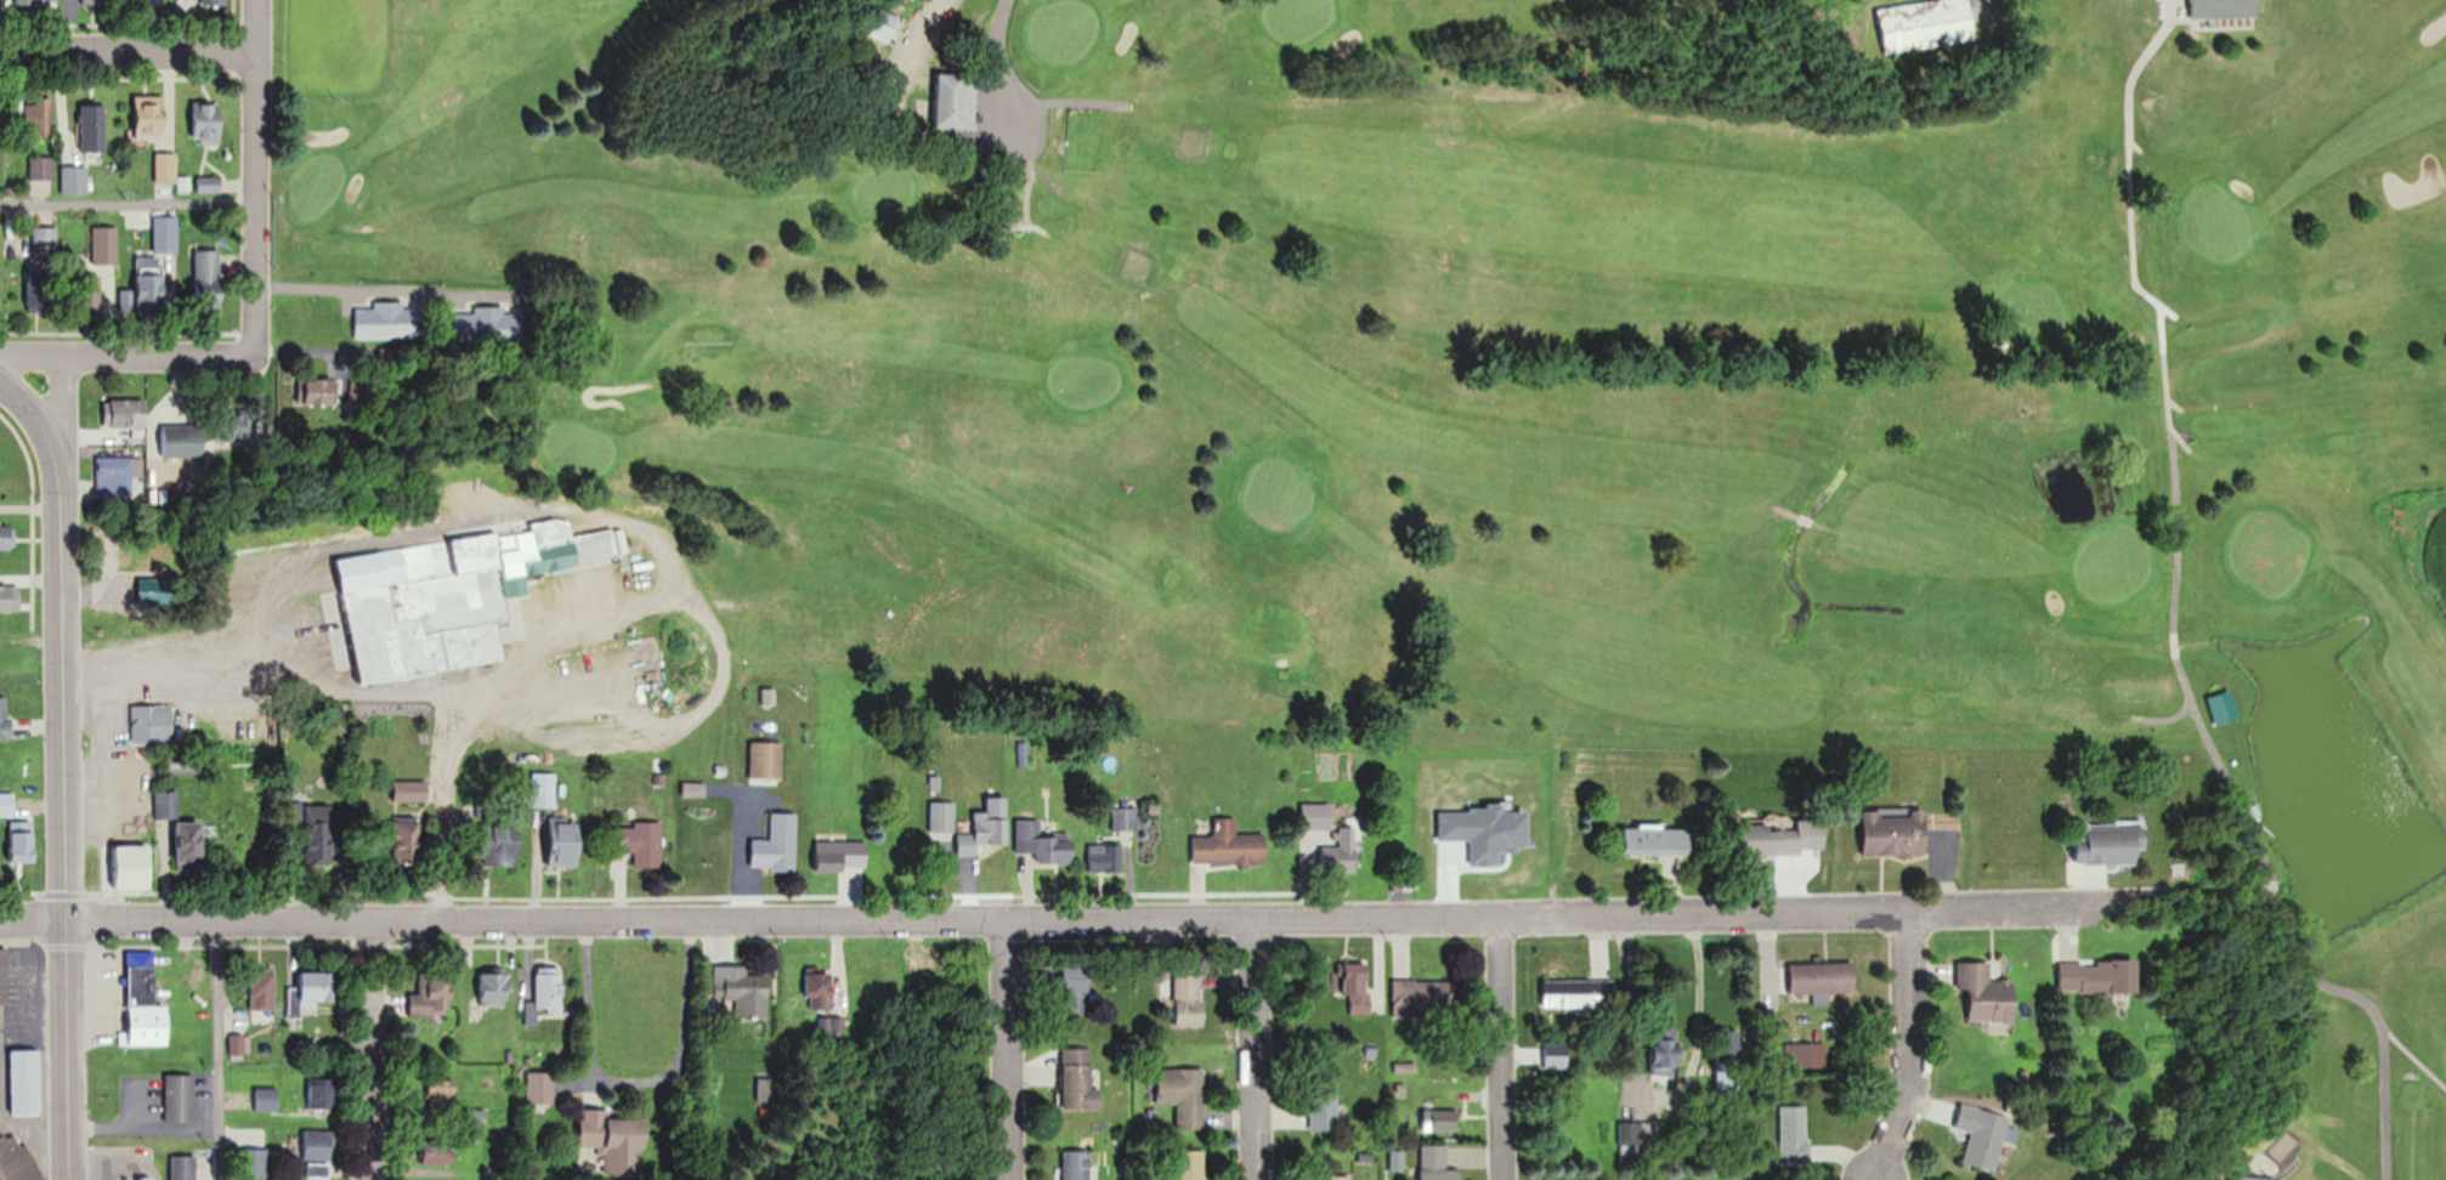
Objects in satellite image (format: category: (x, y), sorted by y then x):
building: (39, 1)
building: (214, 1)
building: (96, 2)
building: (151, 2)
building: (2224, 8)
building: (1925, 23)
building: (884, 25)
road: (126, 49)
road: (998, 72)
road: (1061, 100)
building: (956, 101)
building: (39, 117)
building: (149, 118)
building: (206, 121)
building: (92, 126)
road: (2130, 160)
building: (41, 166)
building: (165, 166)
building: (74, 178)
road: (254, 181)
building: (208, 185)
road: (128, 203)
building: (165, 233)
building: (45, 240)
building: (106, 244)
building: (208, 274)
building: (149, 280)
building: (41, 289)
building: (389, 322)
building: (489, 322)
road: (128, 364)
road: (593, 387)
building: (321, 391)
park: (1380, 395)
road: (64, 412)
building: (129, 413)
building: (182, 441)
building: (115, 476)
road: (598, 517)
road: (1806, 518)
building: (7, 537)
road: (2174, 557)
building: (153, 589)
building: (452, 595)
building: (10, 600)
building: (5, 717)
building: (152, 725)
building: (765, 761)
road: (66, 767)
building: (543, 789)
building: (409, 792)
building: (7, 805)
building: (1317, 817)
building: (942, 818)
building: (987, 827)
building: (1895, 832)
building: (317, 840)
building: (407, 840)
building: (1777, 840)
building: (1658, 841)
building: (22, 843)
building: (565, 843)
building: (1043, 843)
building: (189, 844)
building: (640, 844)
building: (498, 845)
building: (1229, 845)
building: (2108, 845)
building: (774, 852)
building: (1337, 853)
building: (842, 855)
building: (1106, 858)
building: (134, 867)
road: (1117, 915)
road: (33, 924)
building: (936, 975)
building: (1823, 977)
building: (2099, 977)
building: (1074, 986)
building: (265, 988)
building: (494, 988)
building: (1358, 989)
building: (740, 992)
building: (311, 993)
building: (1569, 994)
building: (1987, 994)
building: (432, 995)
building: (545, 995)
building: (1427, 997)
building: (1188, 998)
road: (1697, 1000)
building: (147, 1004)
building: (825, 1008)
building: (239, 1045)
road: (1907, 1045)
road: (1253, 1046)
road: (1501, 1046)
road: (998, 1048)
road: (361, 1050)
road: (223, 1051)
building: (1808, 1055)
road: (2416, 1055)
building: (1665, 1057)
building: (1077, 1080)
building: (26, 1083)
building: (542, 1091)
building: (319, 1094)
building: (442, 1094)
building: (1182, 1095)
building: (180, 1100)
building: (267, 1100)
building: (1324, 1111)
building: (1440, 1121)
building: (1794, 1134)
building: (1632, 1135)
building: (1984, 1135)
building: (613, 1136)
building: (317, 1145)
building: (438, 1152)
building: (2267, 1155)
building: (16, 1158)
building: (1436, 1164)
building: (1076, 1165)
building: (1190, 1165)
building: (183, 1168)
building: (1331, 1178)
building: (2253, 1179)

